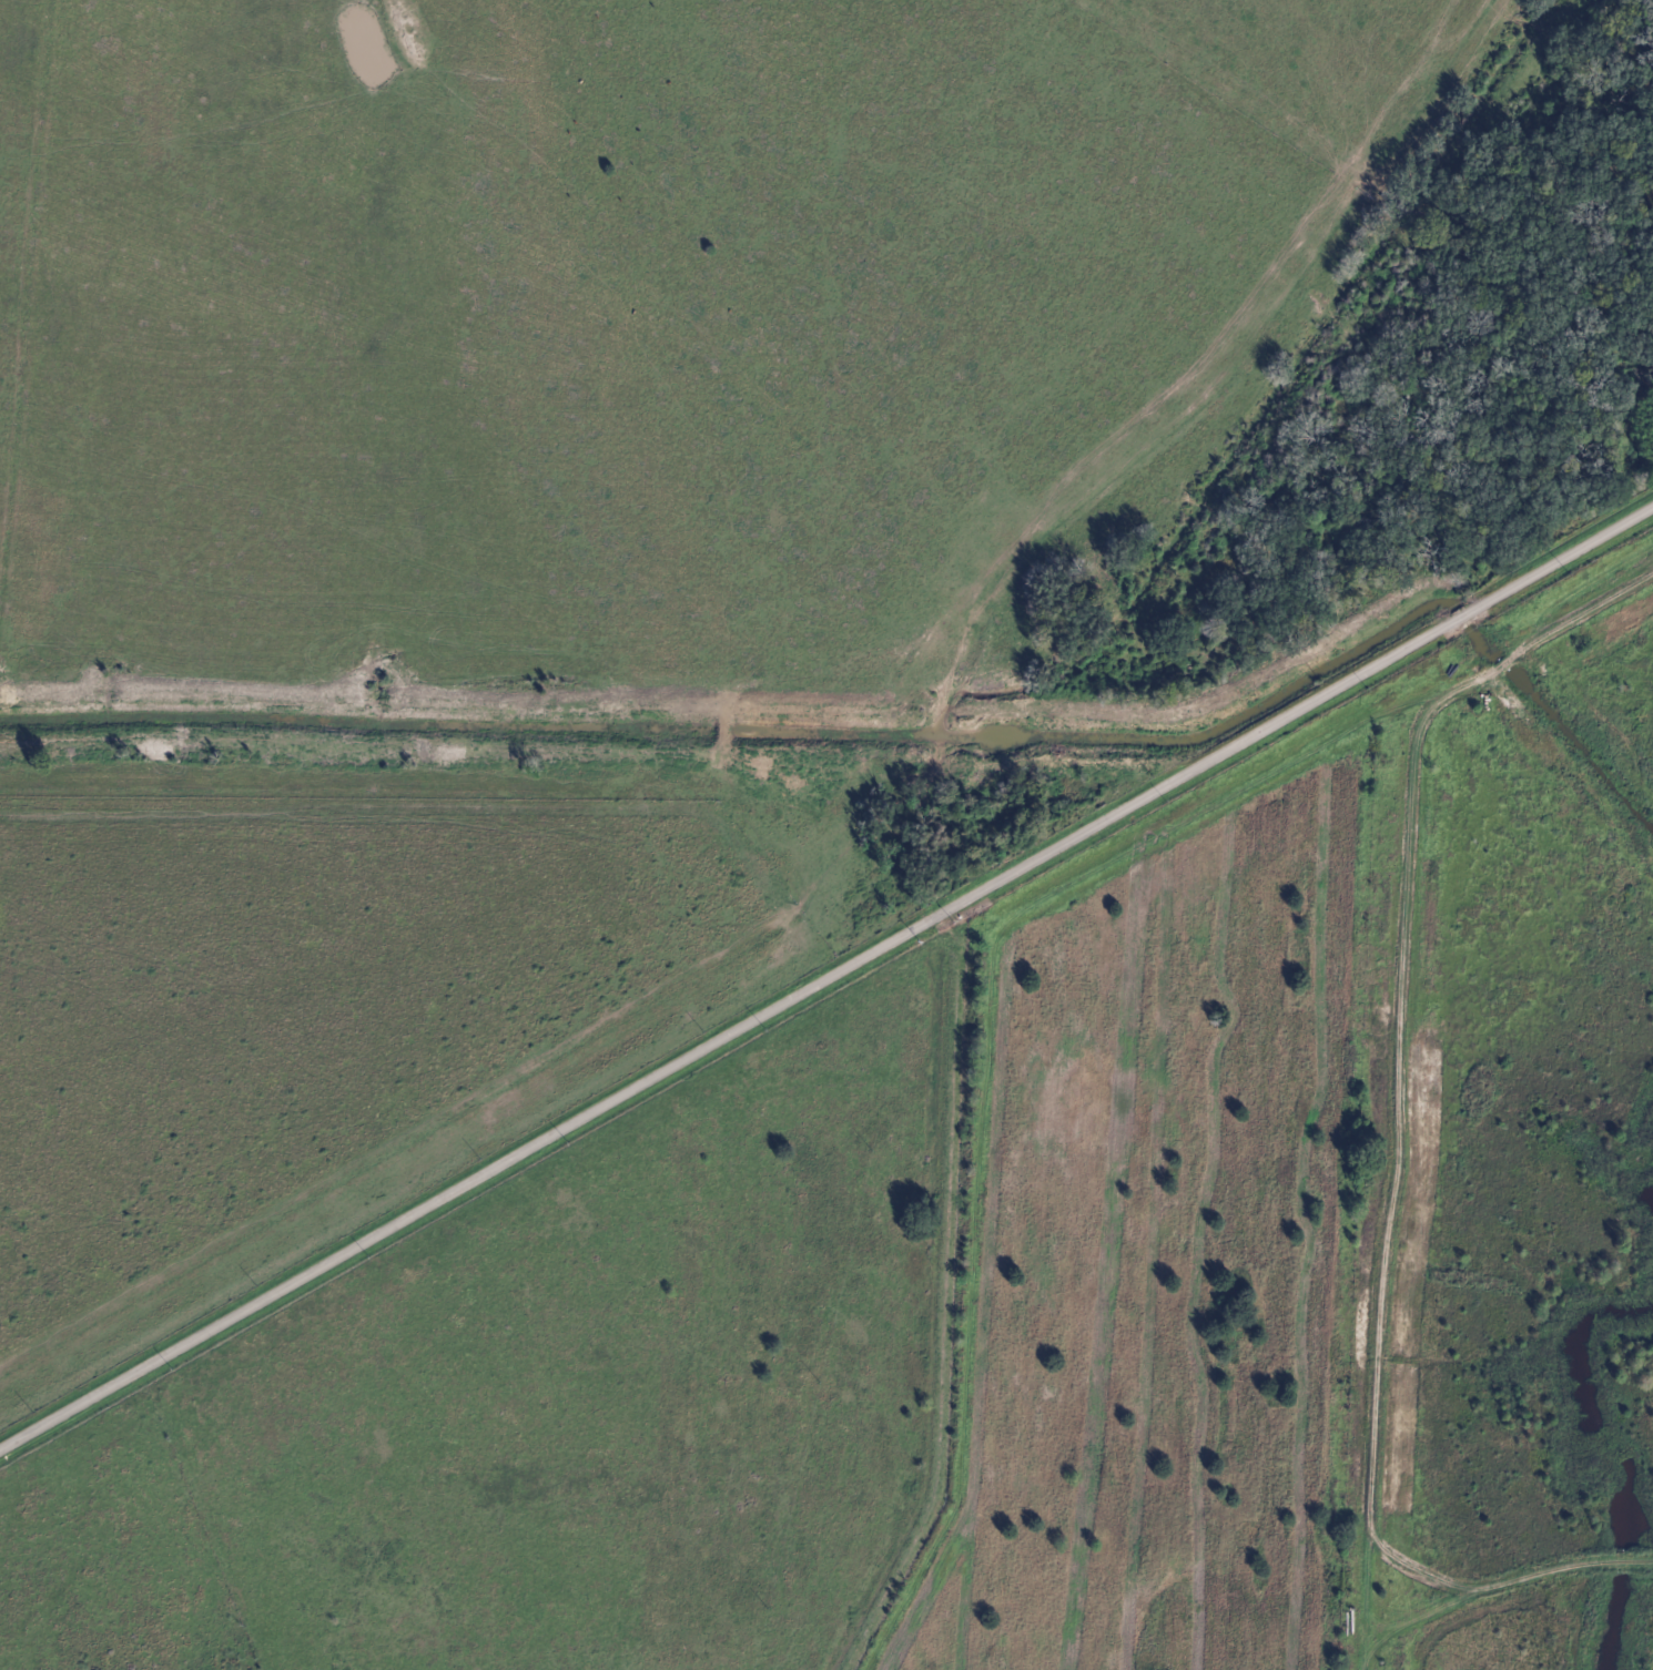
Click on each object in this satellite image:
road: (1558, 558)
road: (976, 927)
road: (729, 1026)

